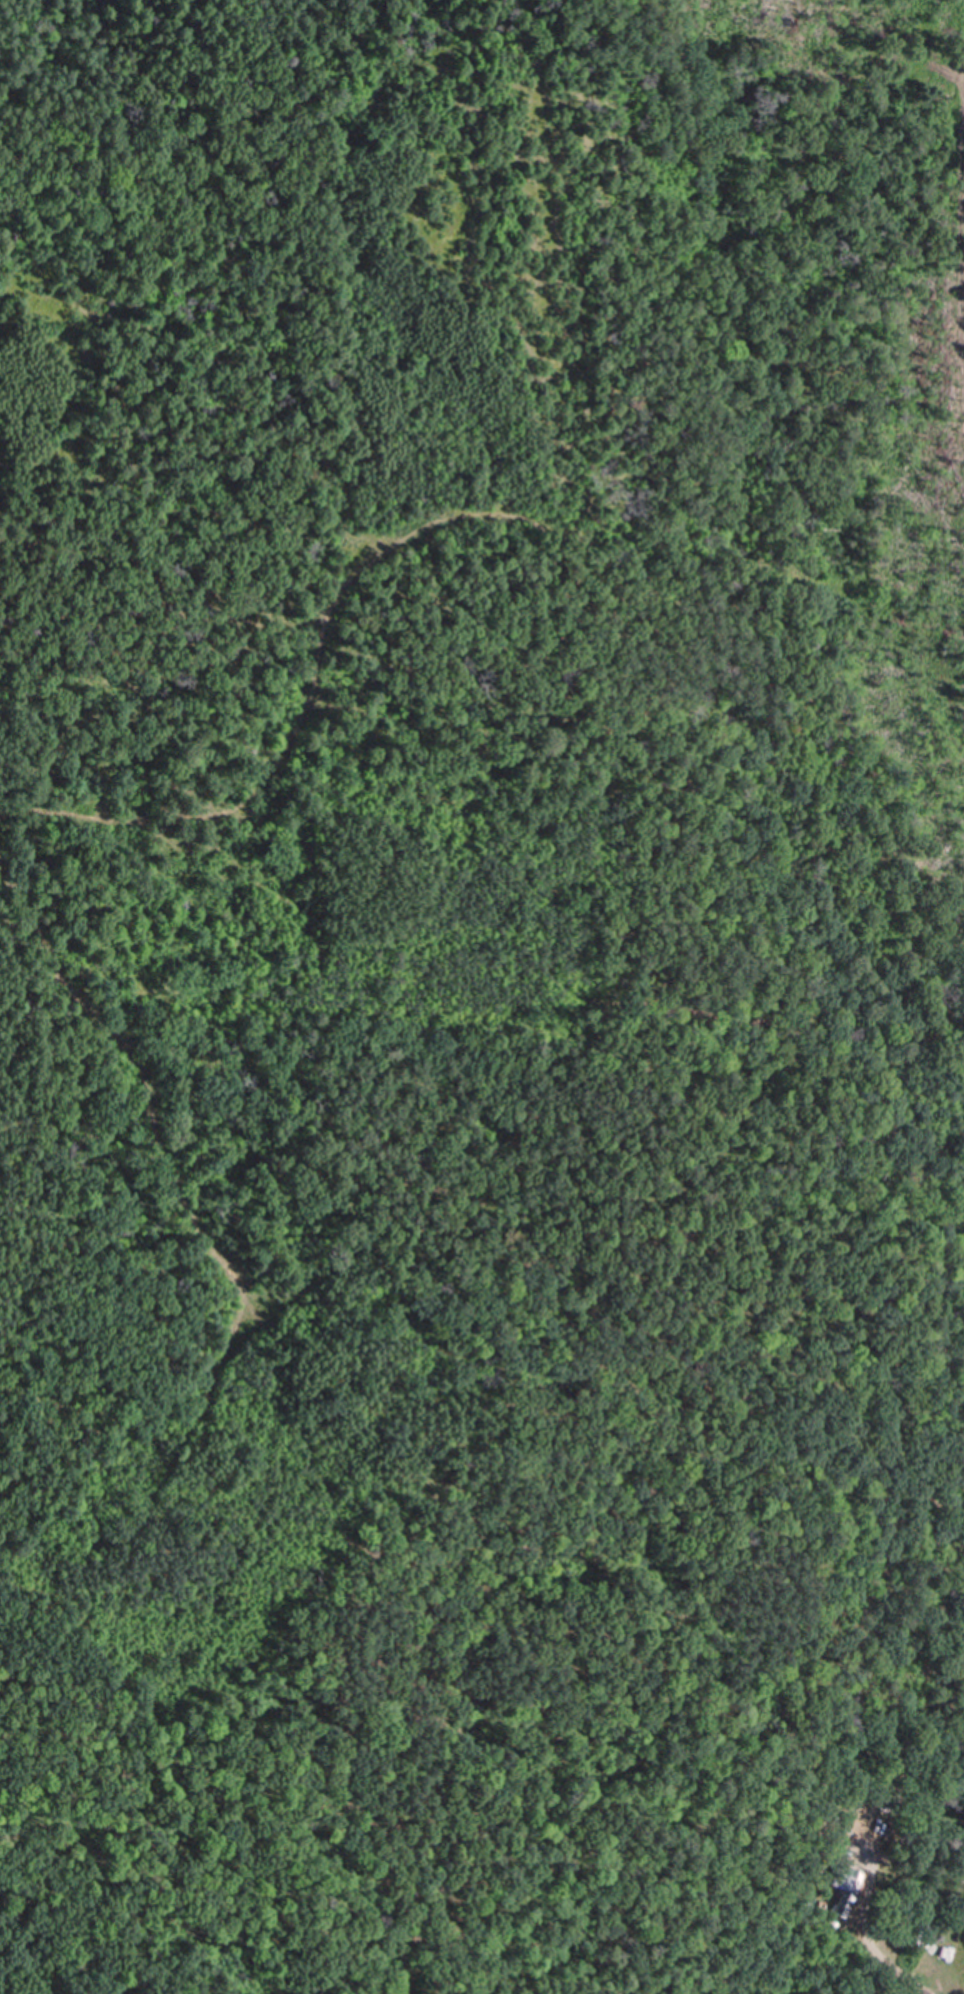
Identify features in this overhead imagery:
building: (849, 1893)

